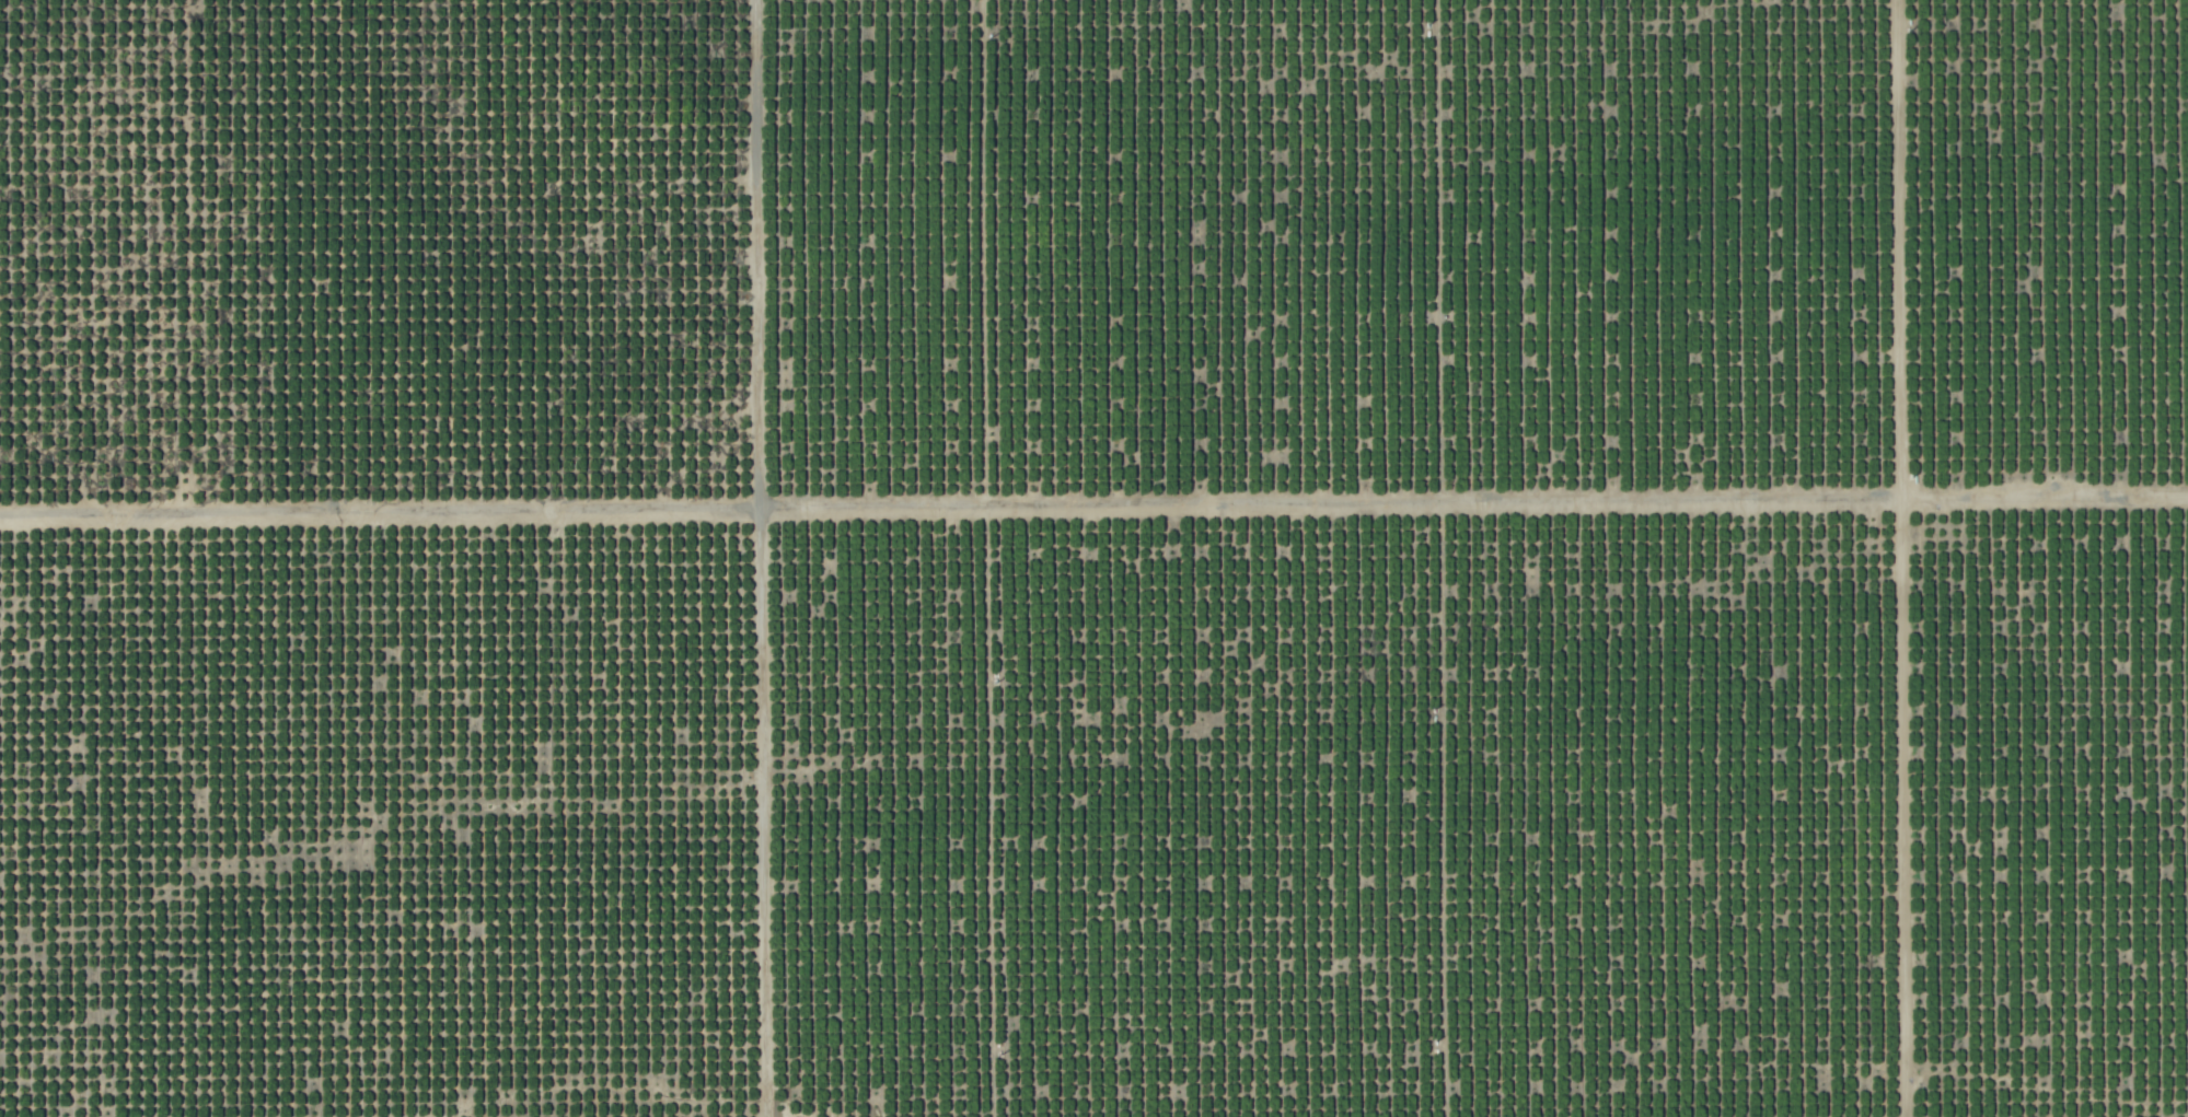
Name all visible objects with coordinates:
road: (818, 512)

